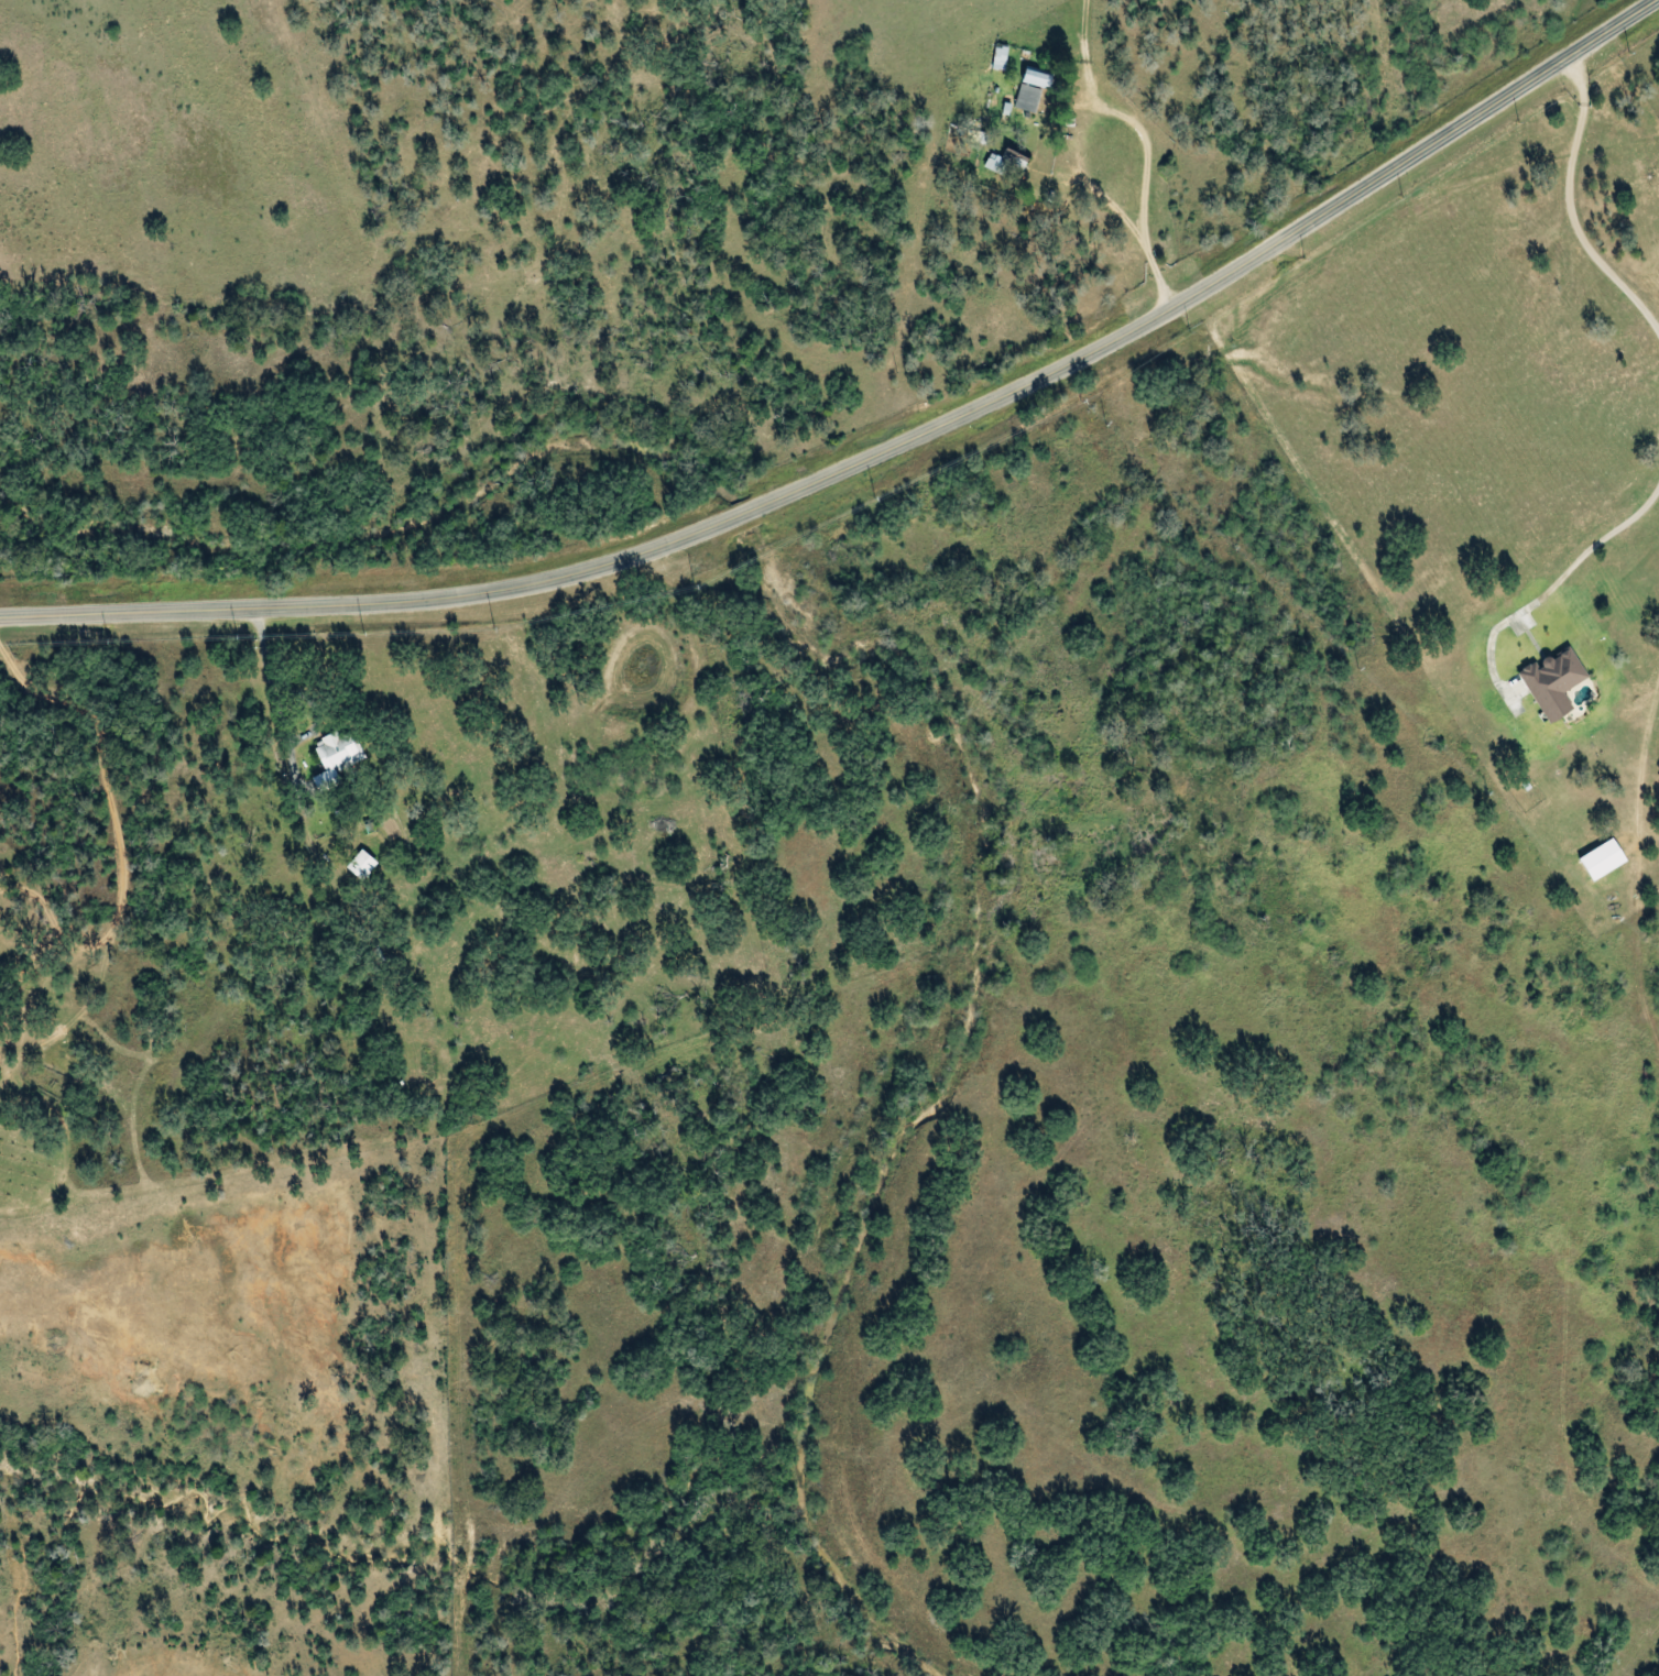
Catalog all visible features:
building: (1035, 79)
building: (1026, 98)
road: (1169, 153)
building: (1005, 164)
road: (1578, 205)
road: (877, 452)
building: (1551, 683)
road: (137, 692)
building: (334, 759)
road: (341, 845)
building: (1600, 861)
building: (360, 865)
road: (1637, 899)
road: (2, 1105)

